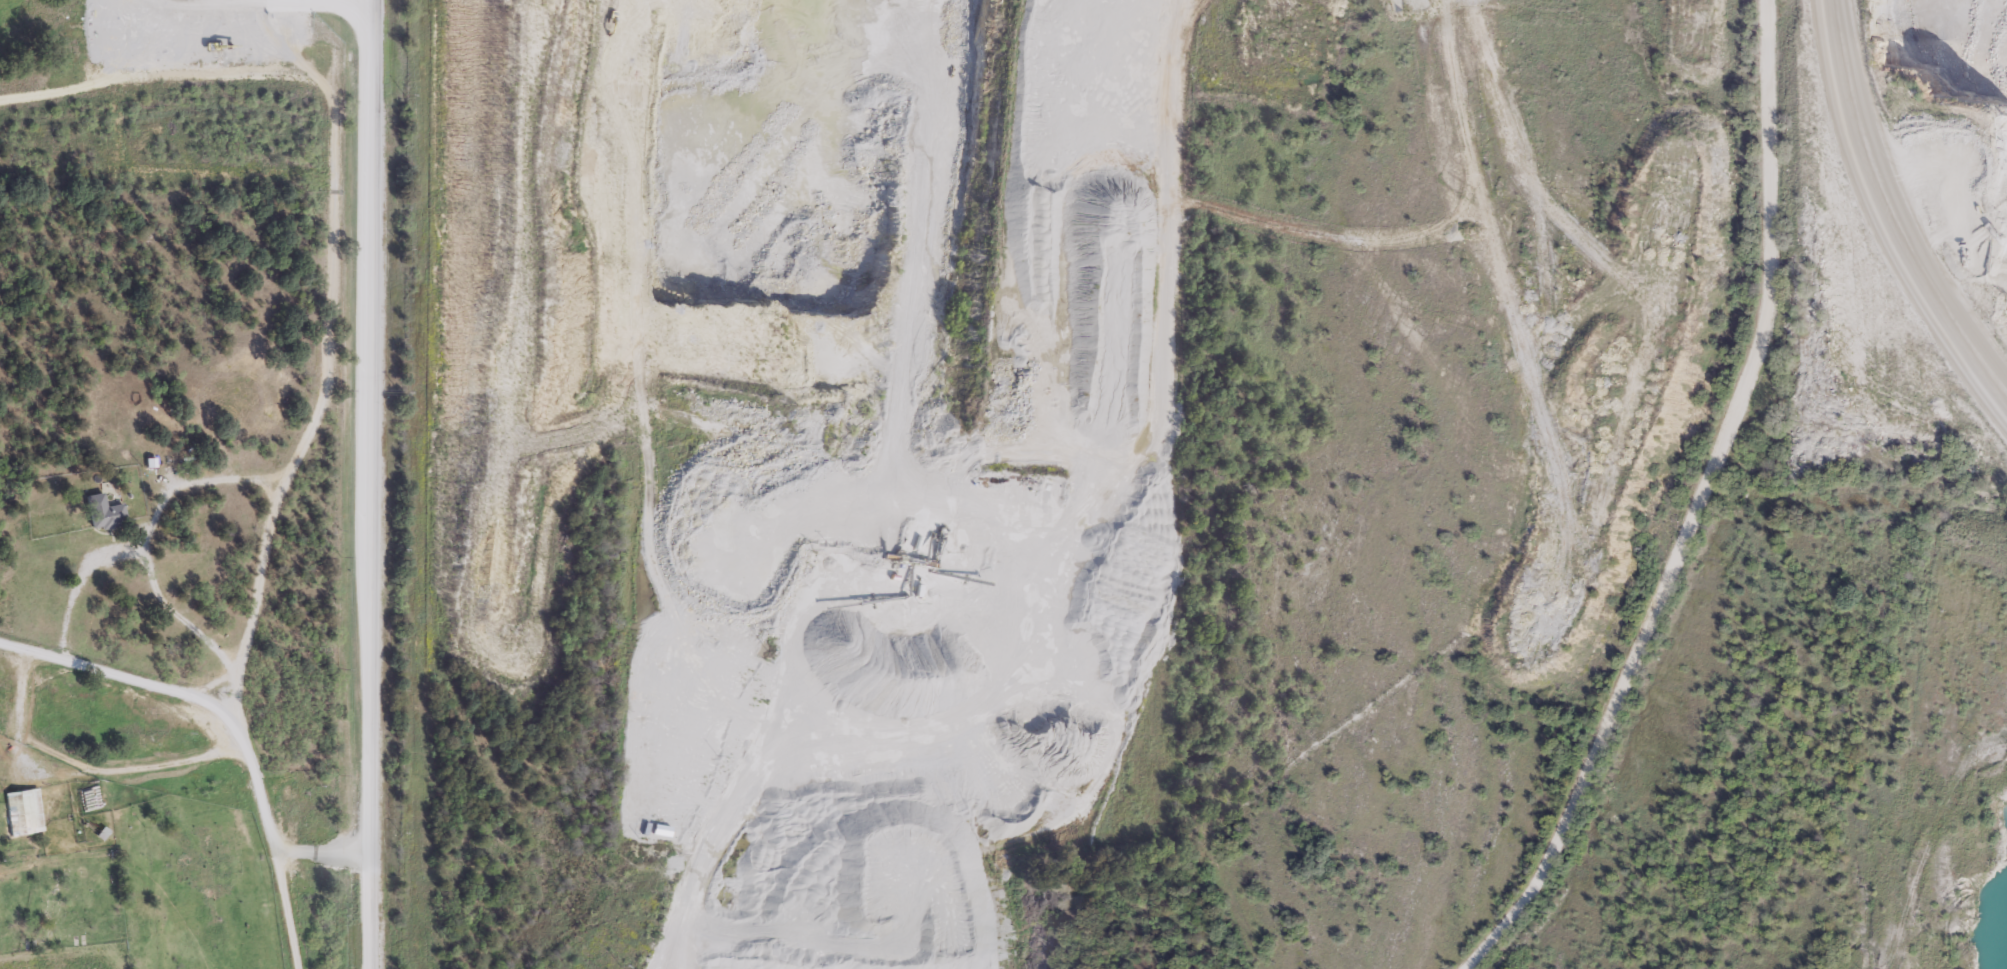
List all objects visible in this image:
building: (1951, 196)
road: (1888, 215)
quarry: (1901, 221)
quarry: (716, 285)
road: (372, 484)
road: (279, 487)
road: (1693, 508)
building: (105, 511)
road: (150, 534)
road: (177, 615)
road: (113, 670)
road: (757, 765)
road: (72, 770)
building: (24, 812)
road: (321, 853)
road: (1224, 881)

